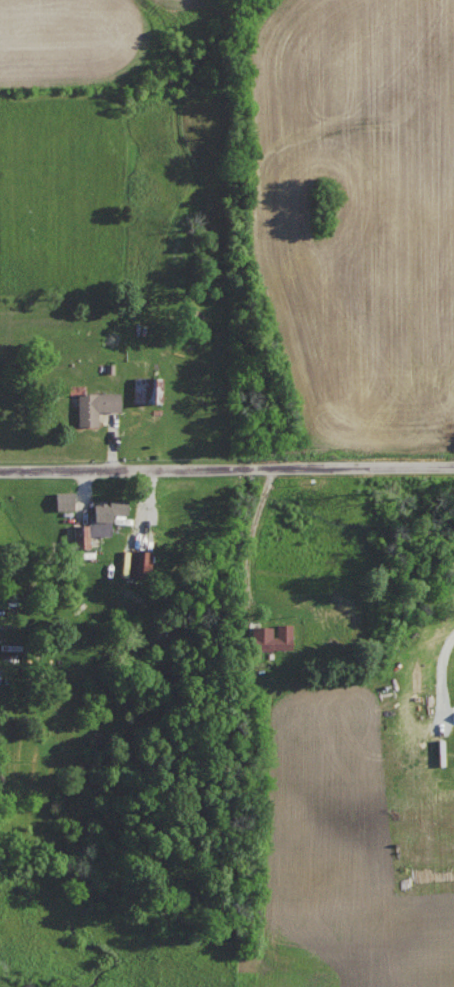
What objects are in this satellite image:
building: (149, 389)
building: (99, 405)
road: (227, 466)
building: (107, 514)
road: (253, 526)
building: (83, 536)
building: (276, 637)
road: (441, 670)

